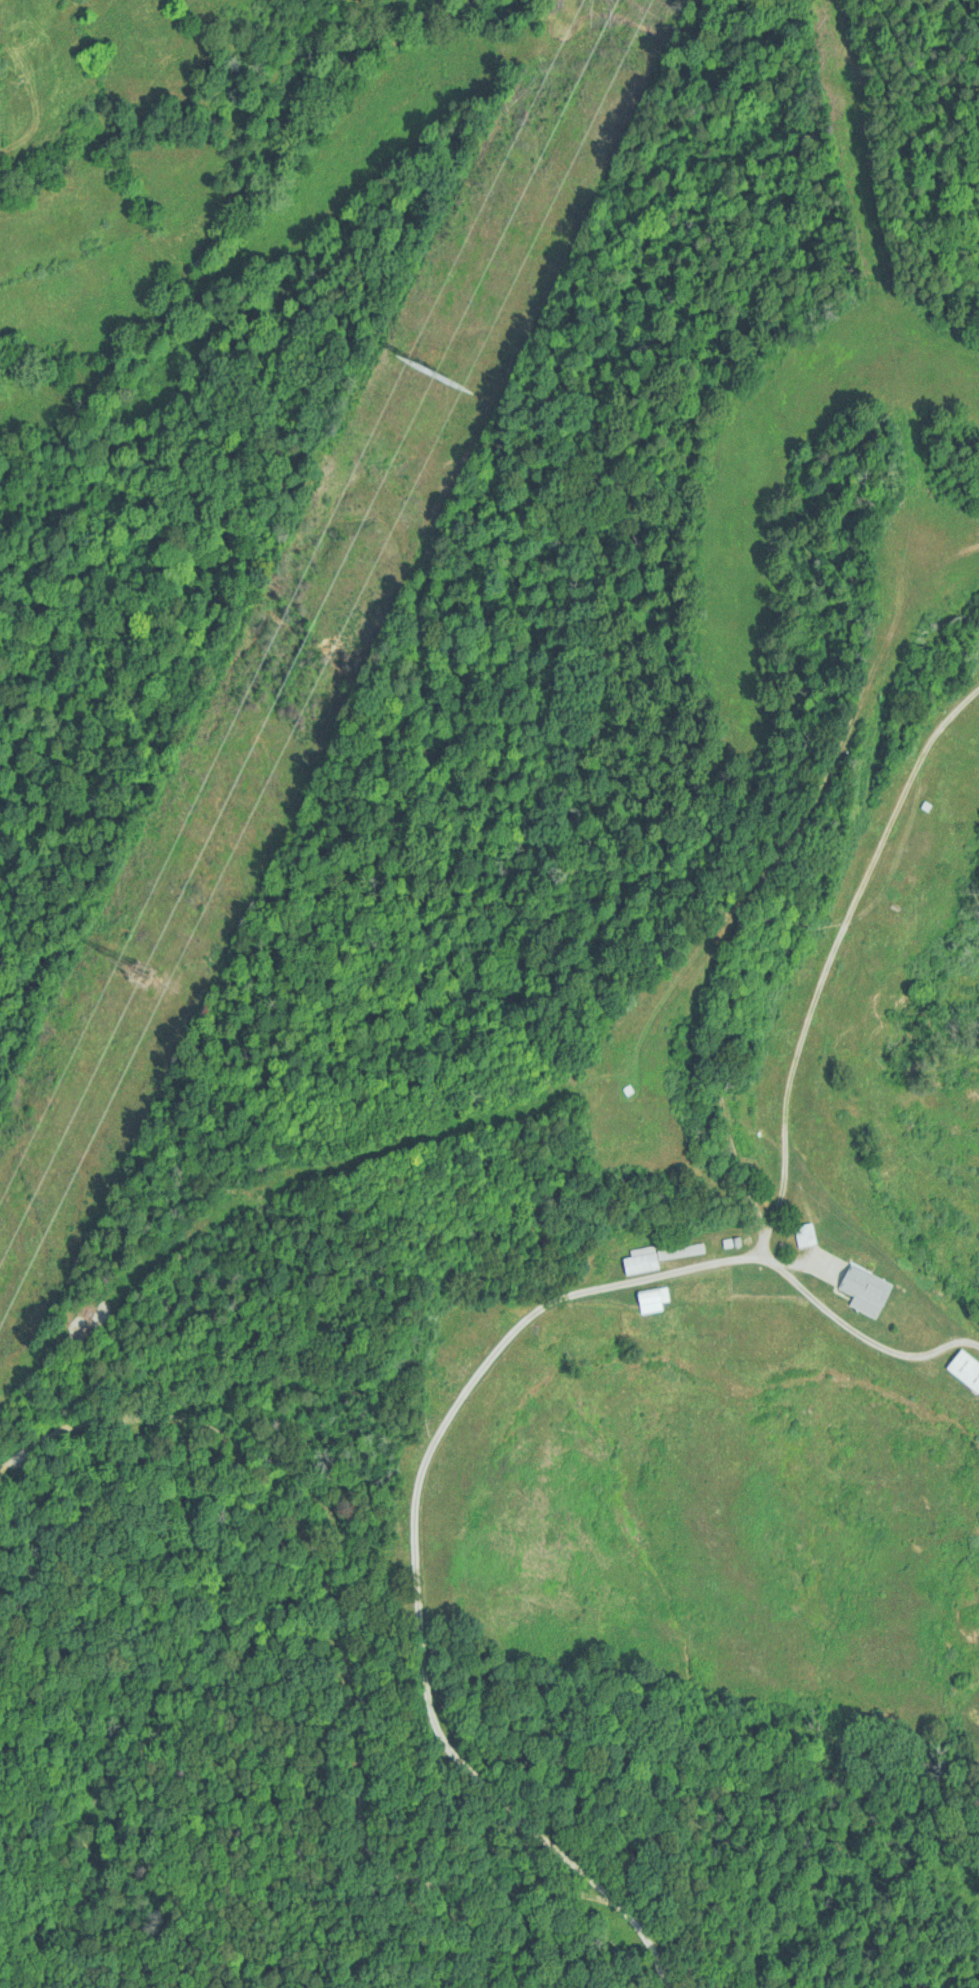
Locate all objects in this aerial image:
power tower: (431, 373)
road: (833, 965)
power tower: (136, 975)
building: (806, 1234)
building: (655, 1256)
building: (871, 1292)
building: (653, 1299)
building: (967, 1369)
road: (433, 1436)

